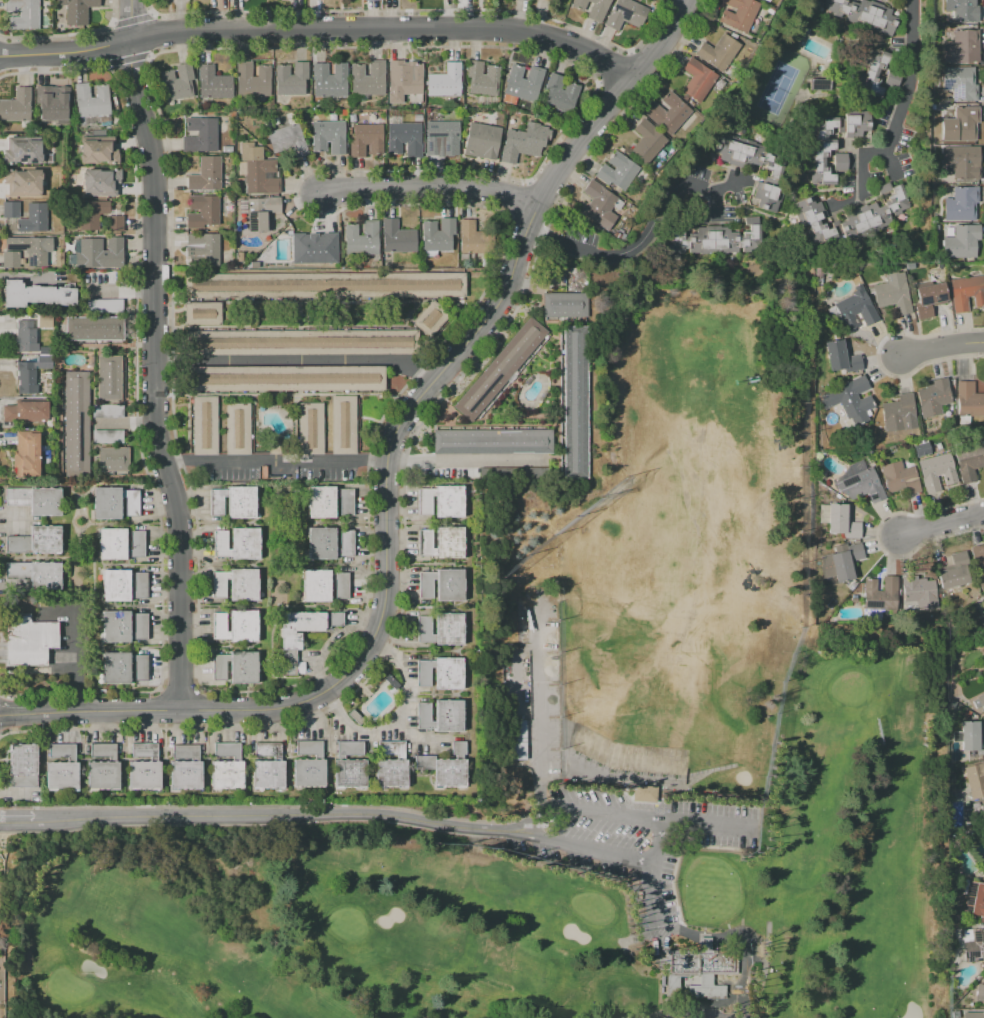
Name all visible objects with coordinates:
building: (368, 0)
building: (546, 0)
building: (767, 0)
building: (592, 8)
road: (418, 9)
building: (77, 10)
building: (962, 10)
road: (151, 12)
building: (23, 14)
building: (625, 14)
building: (740, 14)
building: (865, 14)
road: (131, 17)
road: (322, 29)
road: (68, 33)
building: (960, 47)
road: (629, 51)
building: (718, 52)
road: (613, 67)
building: (873, 73)
building: (405, 77)
building: (367, 78)
building: (482, 78)
building: (697, 79)
road: (908, 79)
building: (252, 80)
building: (291, 80)
building: (329, 80)
building: (445, 81)
building: (892, 81)
building: (177, 82)
building: (213, 83)
building: (522, 83)
building: (960, 83)
building: (821, 84)
park: (779, 85)
building: (559, 94)
building: (92, 100)
building: (52, 103)
building: (16, 106)
building: (668, 113)
building: (960, 124)
building: (200, 134)
building: (328, 136)
building: (439, 136)
building: (403, 137)
building: (367, 138)
building: (286, 139)
building: (833, 140)
building: (481, 141)
building: (646, 141)
building: (517, 145)
building: (227, 149)
building: (22, 150)
building: (98, 150)
building: (750, 159)
building: (841, 161)
building: (960, 163)
building: (257, 169)
building: (617, 171)
building: (206, 174)
building: (100, 181)
building: (23, 182)
road: (433, 190)
building: (960, 204)
building: (600, 205)
building: (11, 209)
building: (202, 211)
building: (260, 212)
building: (848, 217)
building: (33, 219)
building: (89, 222)
building: (437, 235)
building: (467, 236)
building: (397, 238)
road: (643, 238)
building: (716, 239)
building: (361, 240)
building: (960, 241)
building: (204, 247)
building: (315, 248)
building: (26, 251)
building: (100, 253)
building: (240, 257)
building: (254, 264)
building: (817, 275)
building: (326, 285)
building: (892, 293)
building: (966, 293)
building: (35, 295)
building: (929, 299)
road: (328, 303)
building: (563, 305)
building: (104, 306)
building: (852, 309)
building: (202, 315)
building: (430, 318)
building: (45, 320)
building: (94, 328)
building: (29, 338)
building: (301, 342)
road: (941, 349)
road: (152, 356)
building: (839, 356)
road: (302, 362)
road: (451, 362)
building: (499, 369)
building: (31, 374)
building: (109, 378)
building: (282, 378)
road: (287, 396)
building: (932, 397)
building: (574, 401)
building: (847, 402)
building: (968, 402)
building: (25, 411)
building: (106, 411)
building: (896, 412)
building: (343, 424)
building: (76, 425)
building: (204, 425)
building: (309, 428)
building: (239, 429)
building: (107, 436)
building: (491, 441)
building: (921, 449)
building: (27, 454)
road: (464, 458)
building: (113, 460)
building: (968, 460)
road: (278, 464)
building: (935, 471)
building: (898, 477)
building: (858, 482)
building: (35, 500)
building: (233, 502)
building: (328, 502)
building: (441, 502)
building: (114, 503)
building: (840, 521)
road: (942, 526)
building: (35, 540)
building: (443, 543)
building: (239, 544)
building: (331, 544)
building: (122, 545)
building: (957, 557)
building: (978, 560)
building: (839, 563)
building: (35, 573)
building: (950, 577)
building: (239, 586)
building: (327, 586)
building: (442, 586)
building: (125, 587)
building: (917, 592)
building: (878, 593)
building: (982, 600)
building: (983, 606)
building: (981, 618)
building: (304, 625)
building: (125, 626)
building: (238, 626)
building: (439, 629)
building: (28, 639)
park: (753, 666)
building: (126, 668)
building: (238, 668)
building: (441, 673)
building: (980, 701)
road: (131, 712)
building: (442, 717)
road: (397, 718)
road: (538, 723)
building: (971, 737)
building: (517, 739)
building: (224, 766)
building: (266, 766)
building: (306, 766)
building: (347, 766)
building: (390, 766)
building: (445, 767)
building: (22, 768)
building: (142, 768)
building: (60, 769)
building: (100, 769)
building: (184, 769)
building: (974, 779)
building: (643, 793)
road: (601, 809)
road: (258, 815)
road: (707, 825)
parking lot: (629, 837)
road: (656, 841)
road: (582, 847)
road: (652, 891)
building: (972, 898)
park: (309, 930)
building: (971, 944)
road: (766, 950)
road: (629, 953)
road: (637, 964)
building: (699, 971)
building: (978, 992)
road: (650, 1014)
building: (972, 1015)

